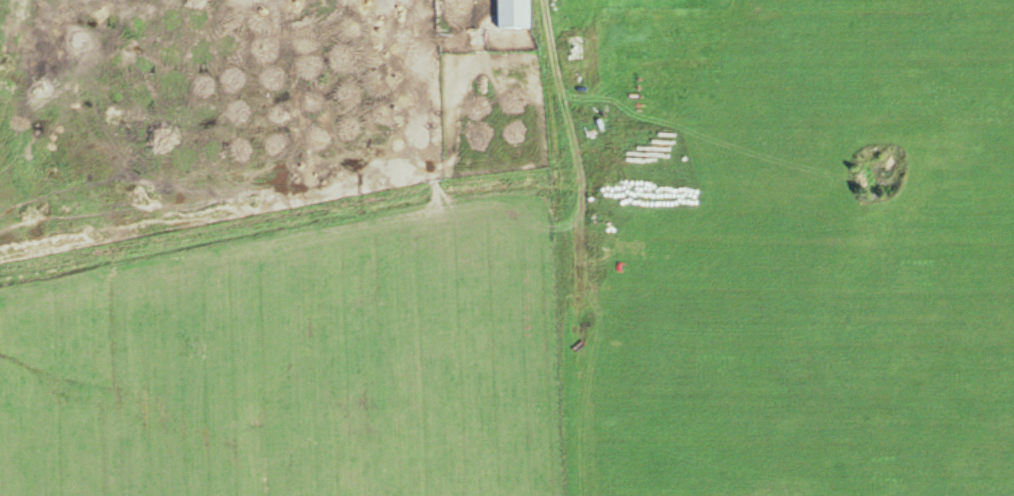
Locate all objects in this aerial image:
building: (516, 14)
building: (577, 46)

